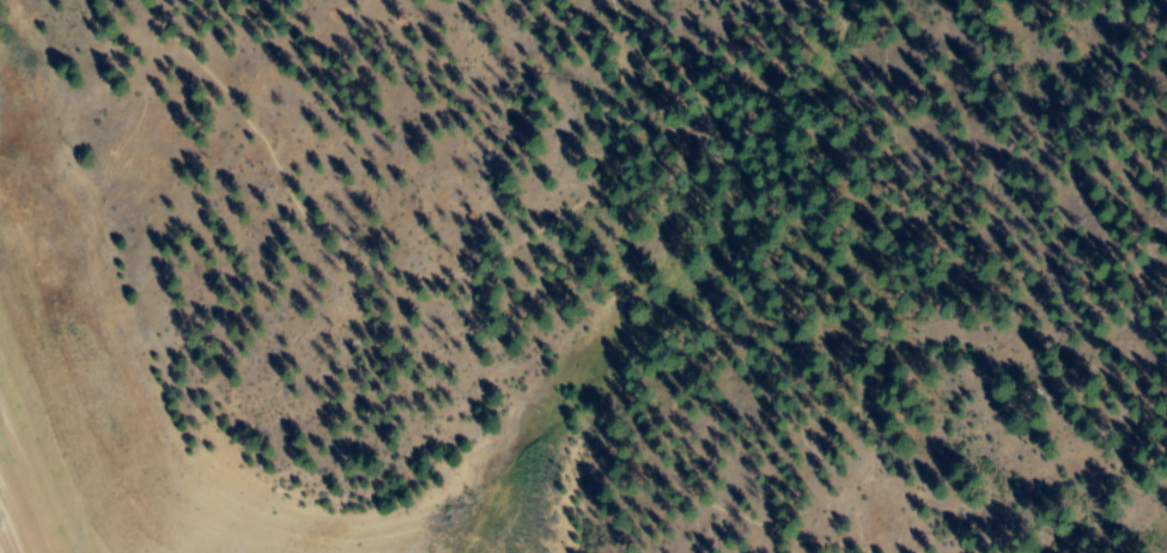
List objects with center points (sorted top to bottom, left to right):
road: (600, 203)

